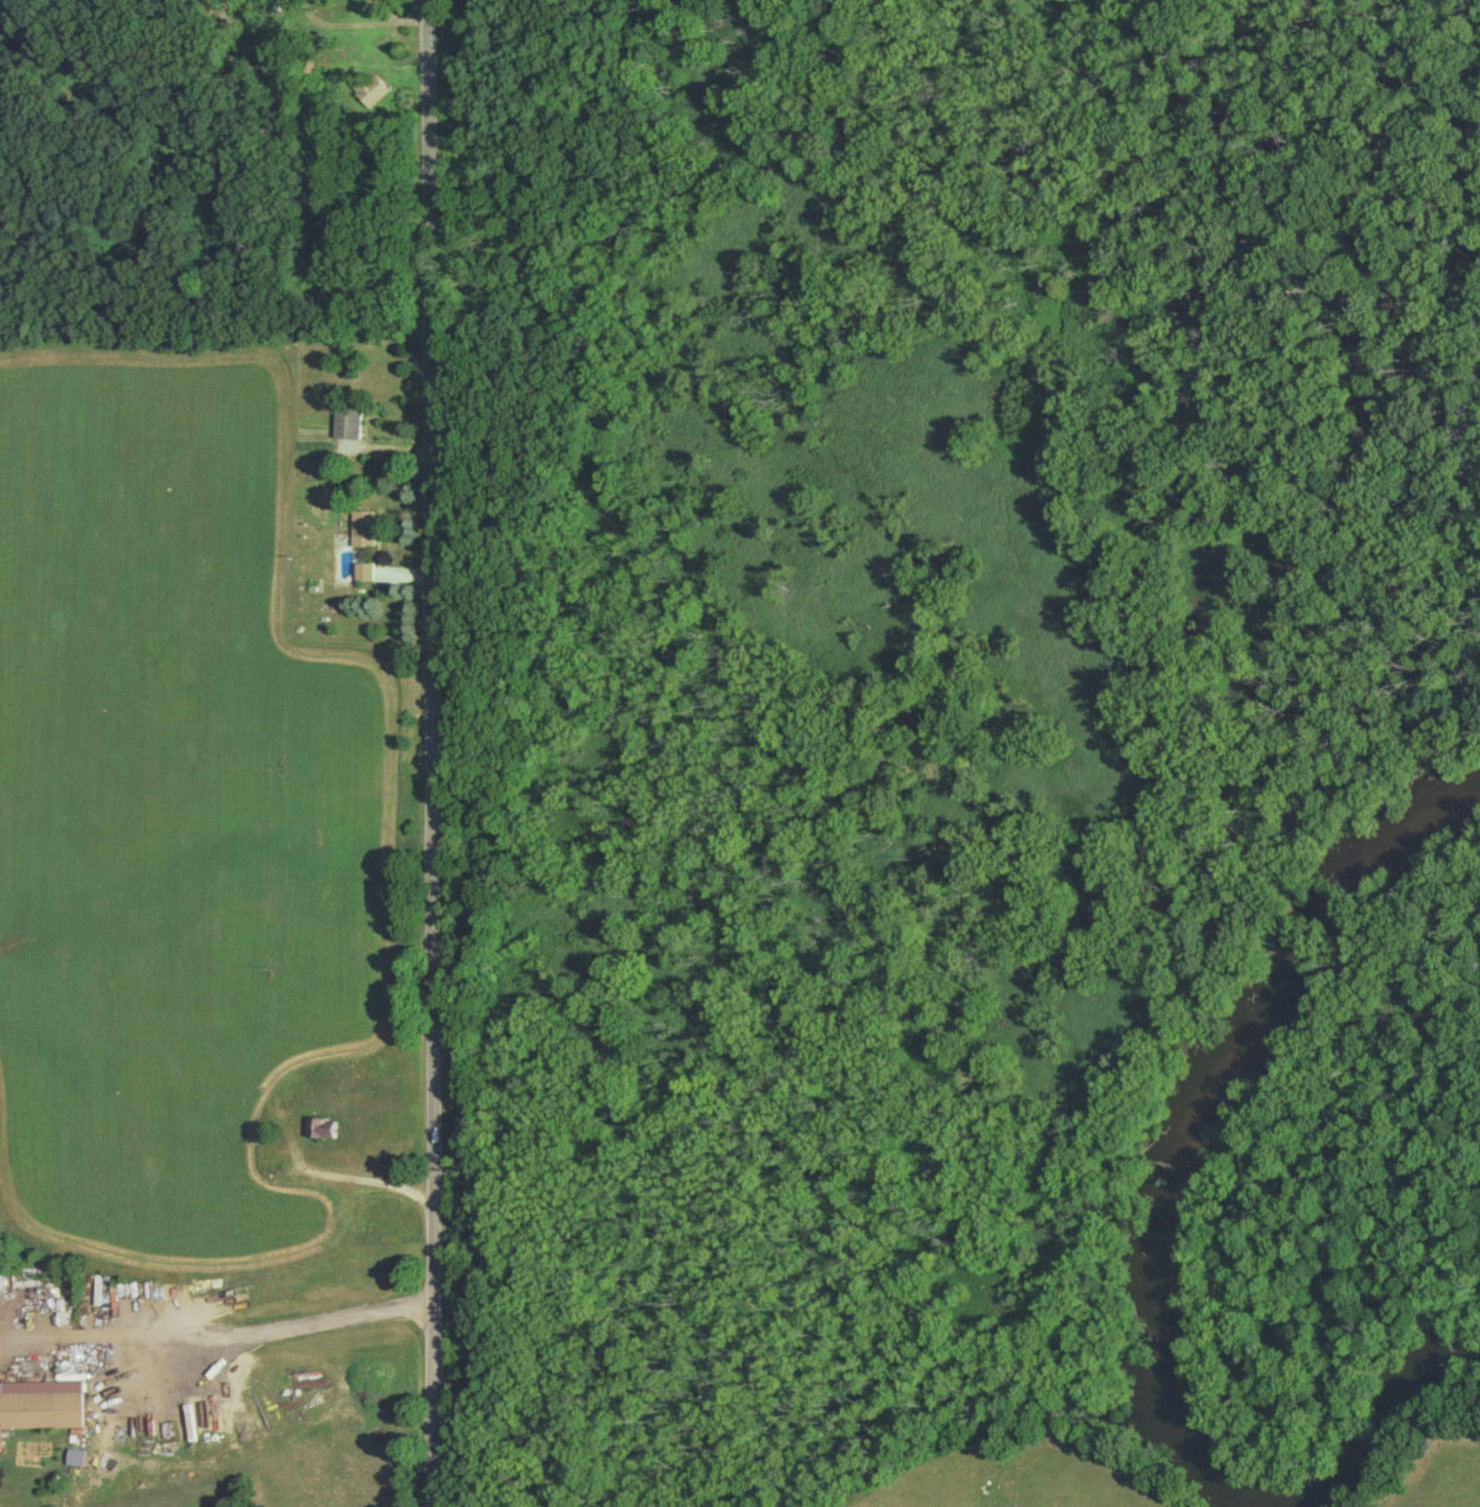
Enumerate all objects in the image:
building: (372, 90)
building: (347, 424)
building: (363, 532)
building: (364, 574)
road: (427, 753)
river: (1197, 1117)
building: (319, 1131)
building: (27, 1414)
river: (1387, 1416)

